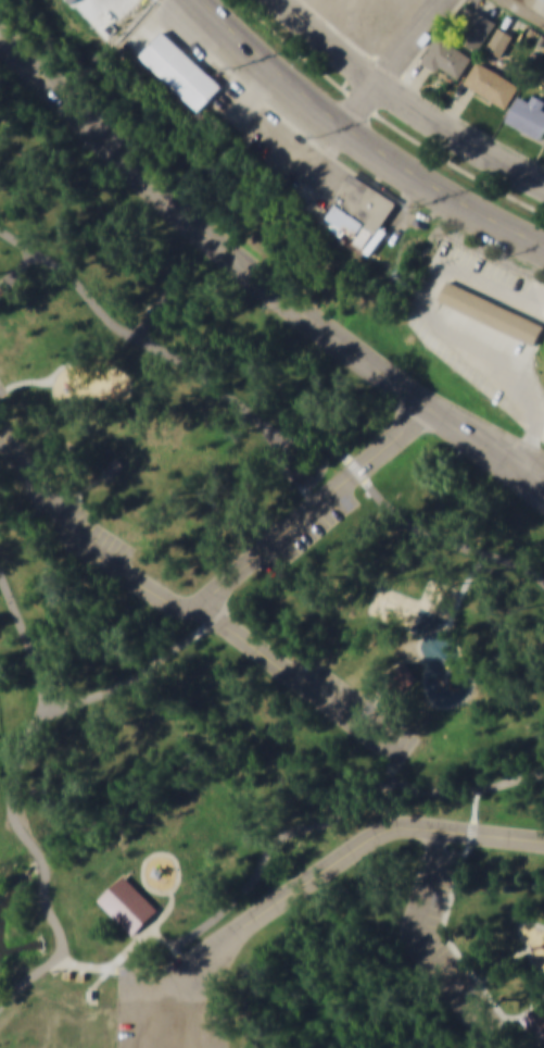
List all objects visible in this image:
building: (374, 8)
building: (118, 11)
road: (527, 11)
building: (477, 28)
building: (498, 40)
road: (328, 41)
building: (446, 57)
road: (393, 62)
building: (180, 70)
building: (490, 83)
building: (528, 114)
road: (458, 134)
road: (360, 137)
building: (360, 211)
road: (256, 280)
building: (177, 287)
building: (2, 291)
building: (490, 311)
road: (152, 317)
parking lot: (2, 390)
road: (263, 427)
building: (116, 466)
building: (304, 475)
road: (537, 482)
road: (313, 507)
parking lot: (90, 531)
parking lot: (306, 531)
road: (187, 608)
park: (244, 640)
road: (139, 679)
building: (405, 681)
parking lot: (353, 706)
road: (451, 706)
road: (27, 765)
road: (470, 833)
road: (157, 853)
road: (253, 873)
building: (135, 904)
road: (266, 911)
road: (164, 915)
road: (446, 933)
road: (523, 939)
road: (420, 946)
parking lot: (453, 947)
road: (188, 960)
road: (503, 964)
parking lot: (177, 1009)
building: (536, 1025)

